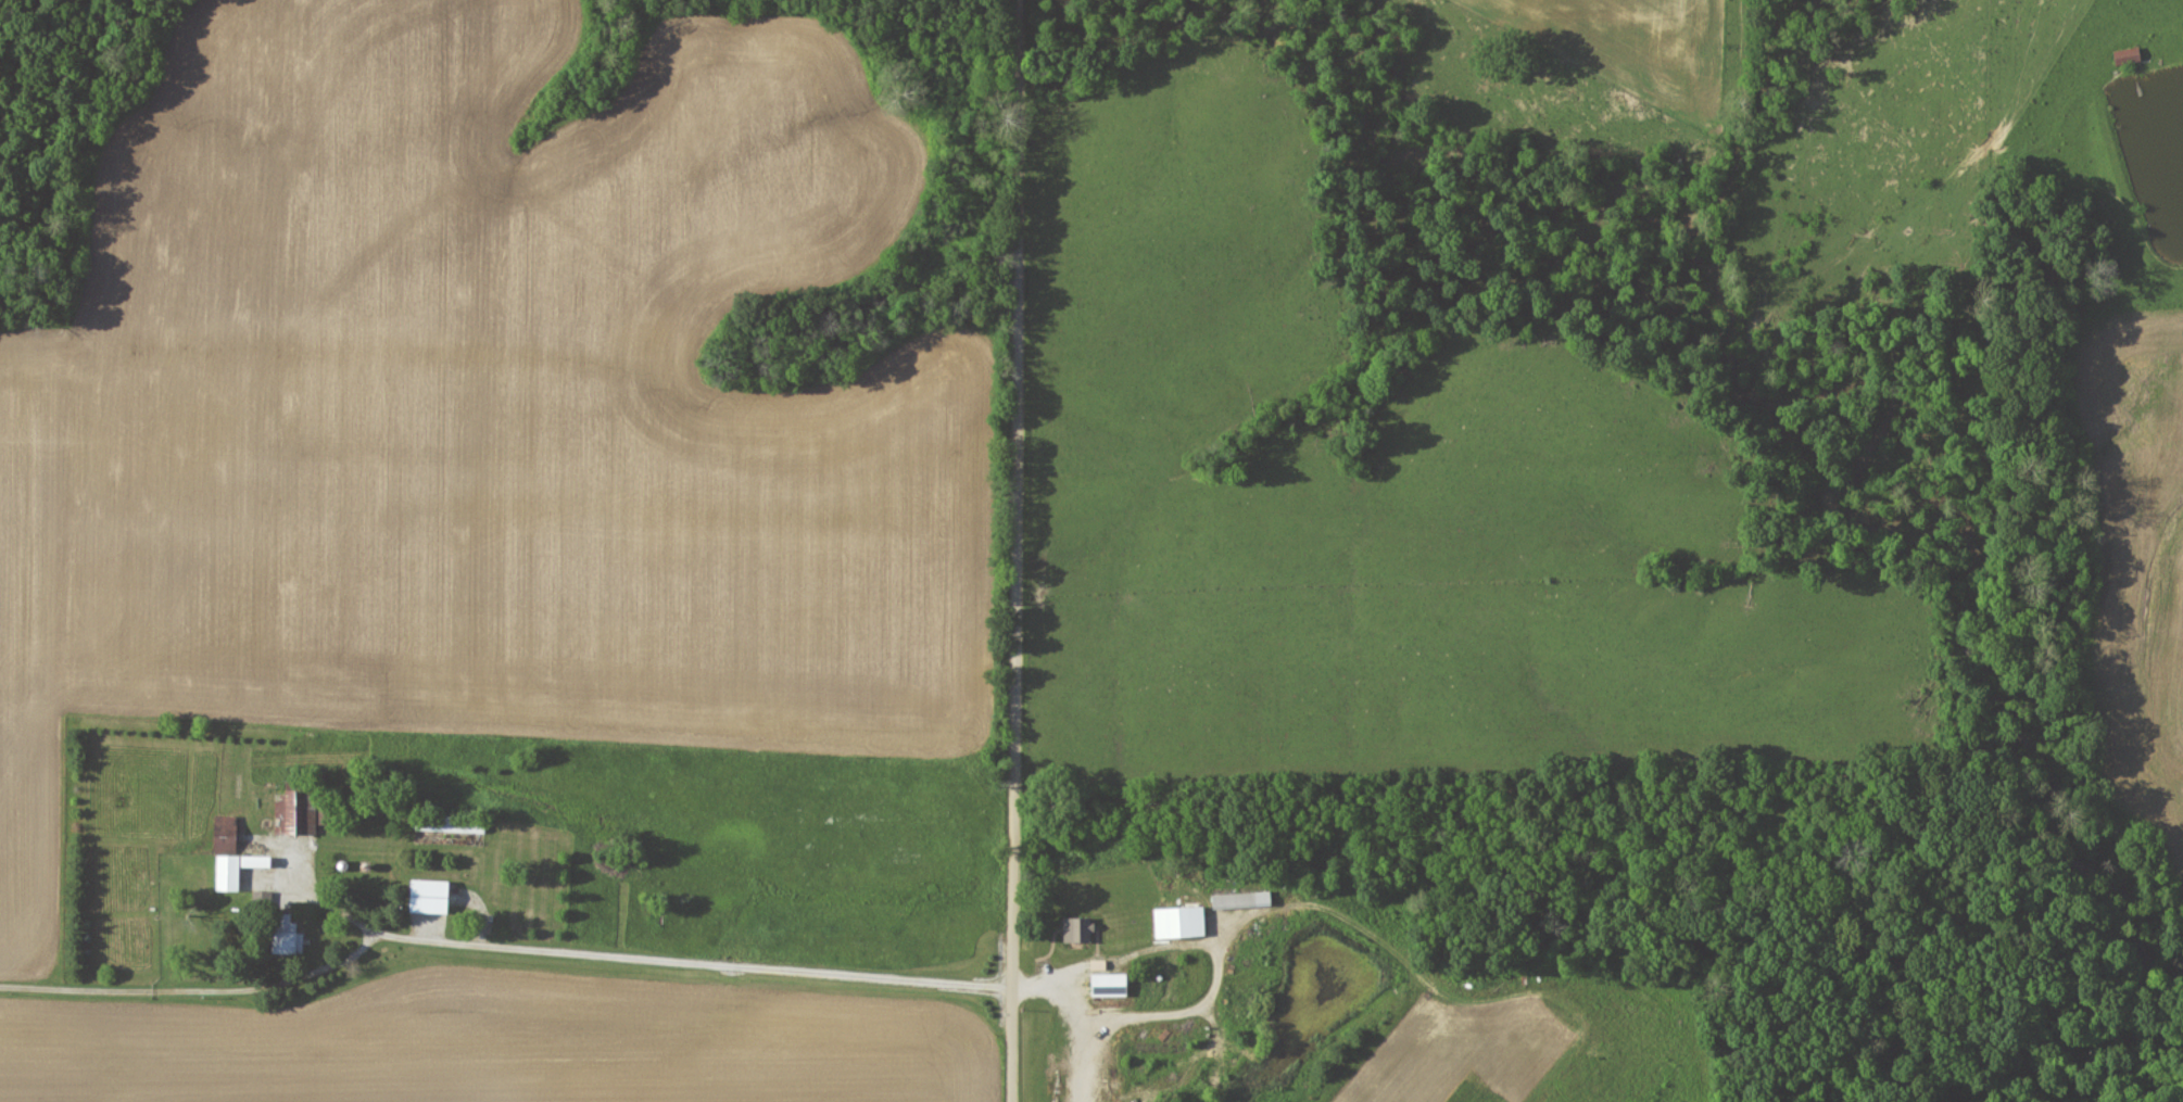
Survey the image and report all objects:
building: (2127, 54)
road: (1017, 550)
building: (290, 814)
building: (226, 871)
building: (252, 873)
building: (428, 894)
building: (1240, 898)
road: (312, 900)
building: (1178, 920)
building: (1076, 927)
building: (286, 934)
road: (500, 949)
road: (1220, 957)
building: (1108, 981)
road: (1076, 1019)

